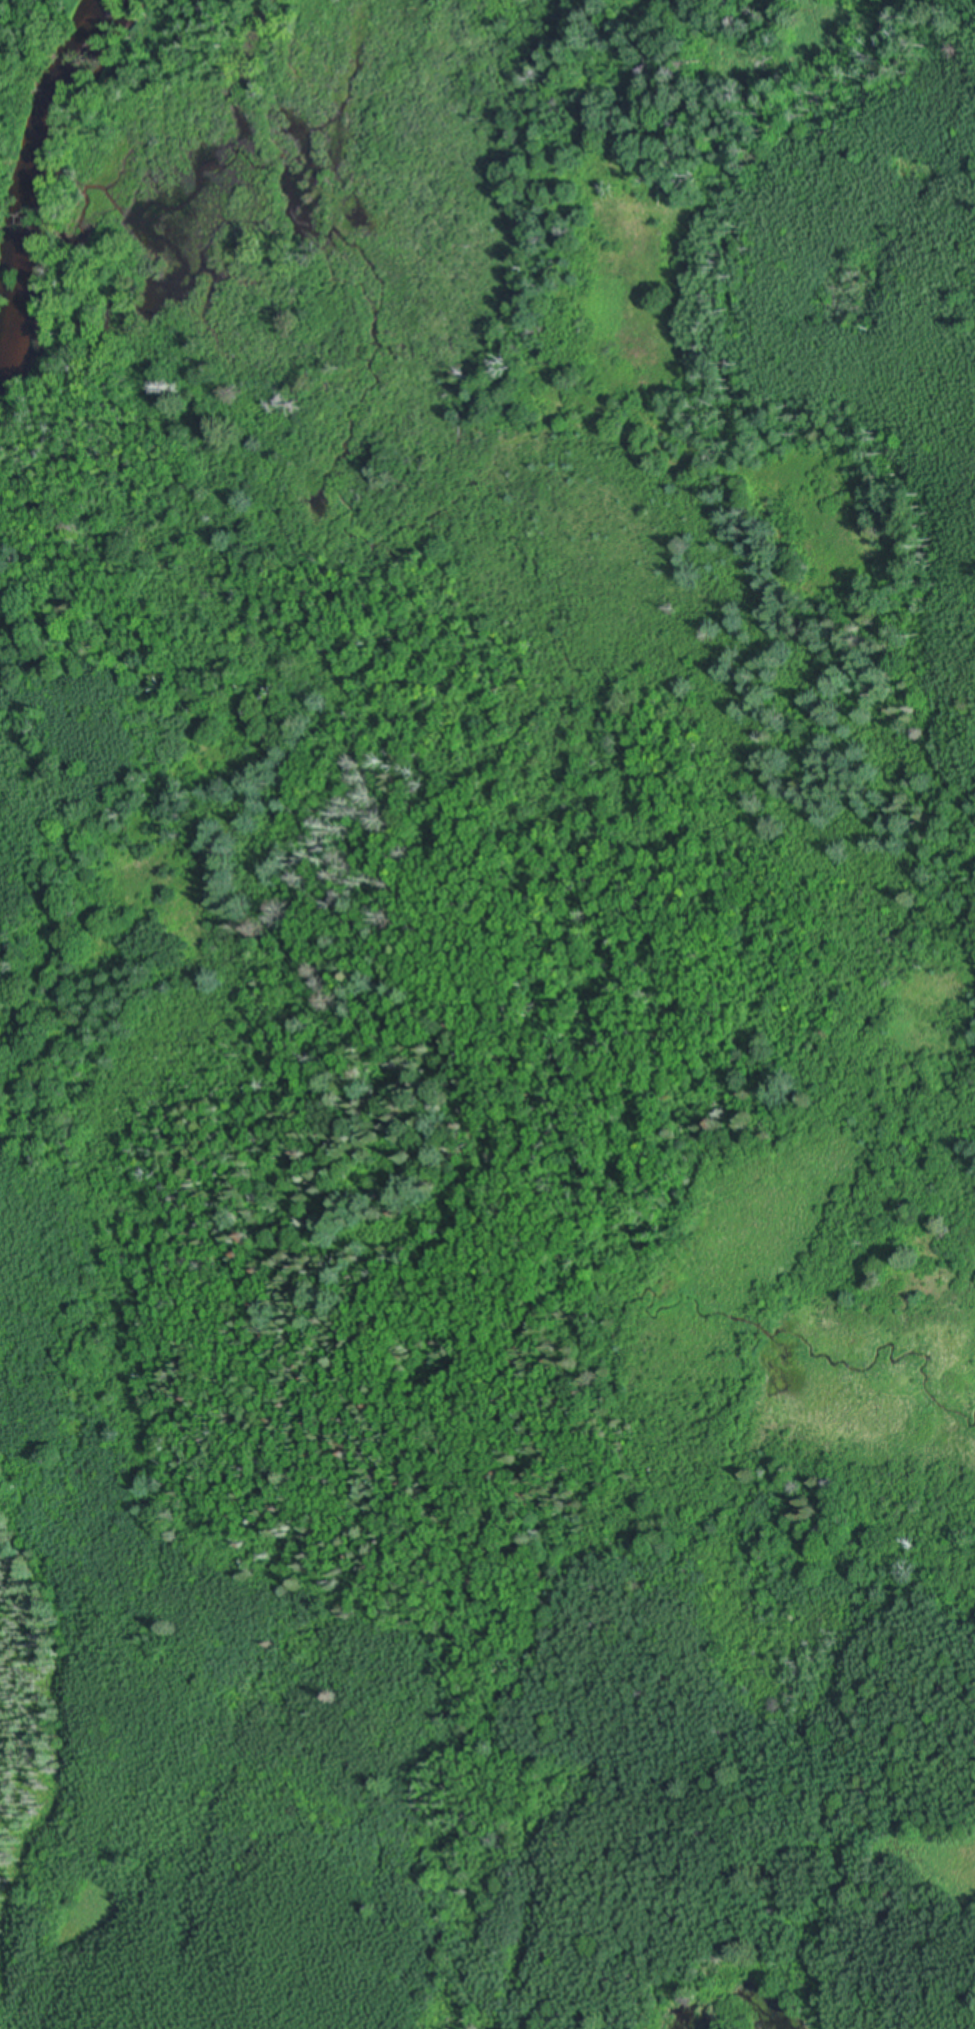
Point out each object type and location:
river: (58, 180)

